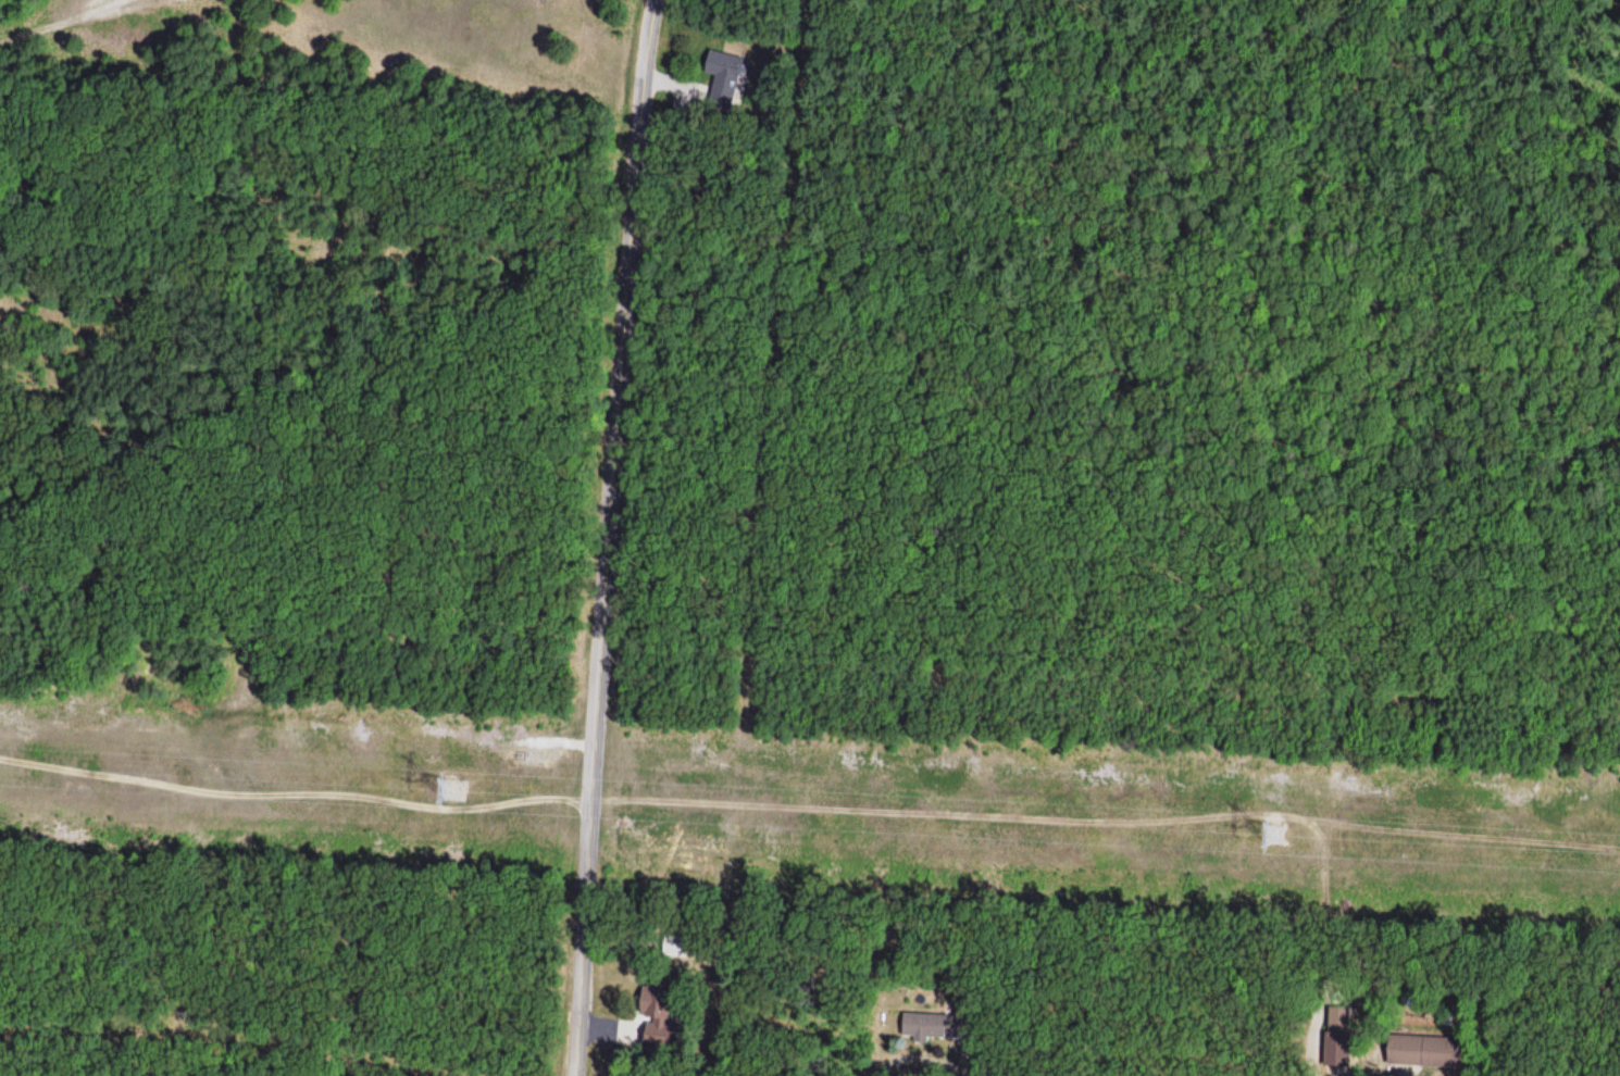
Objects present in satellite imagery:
road: (72, 25)
building: (724, 73)
road: (608, 537)
power tower: (454, 789)
road: (695, 803)
power tower: (1272, 830)
building: (656, 1003)
building: (931, 1025)
building: (1334, 1050)
building: (1423, 1051)

